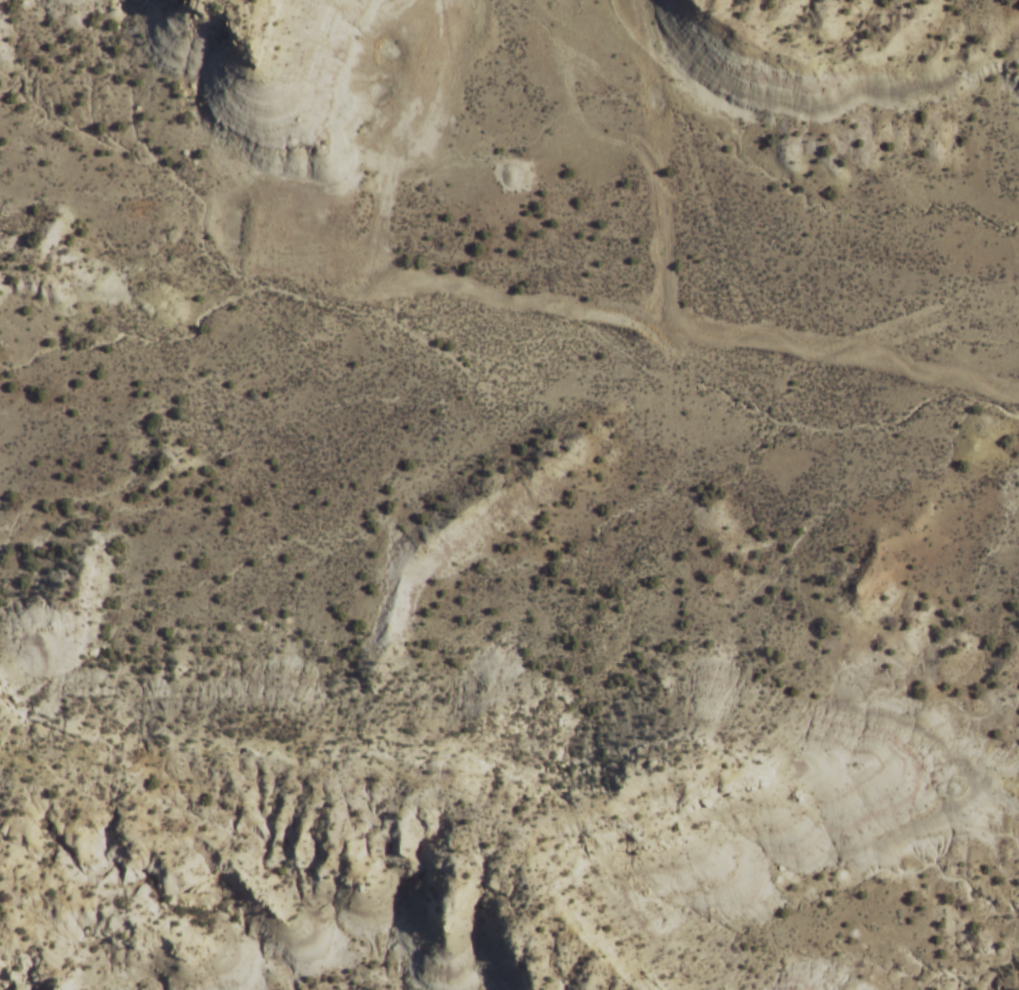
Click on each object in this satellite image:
road: (685, 164)
road: (701, 329)

